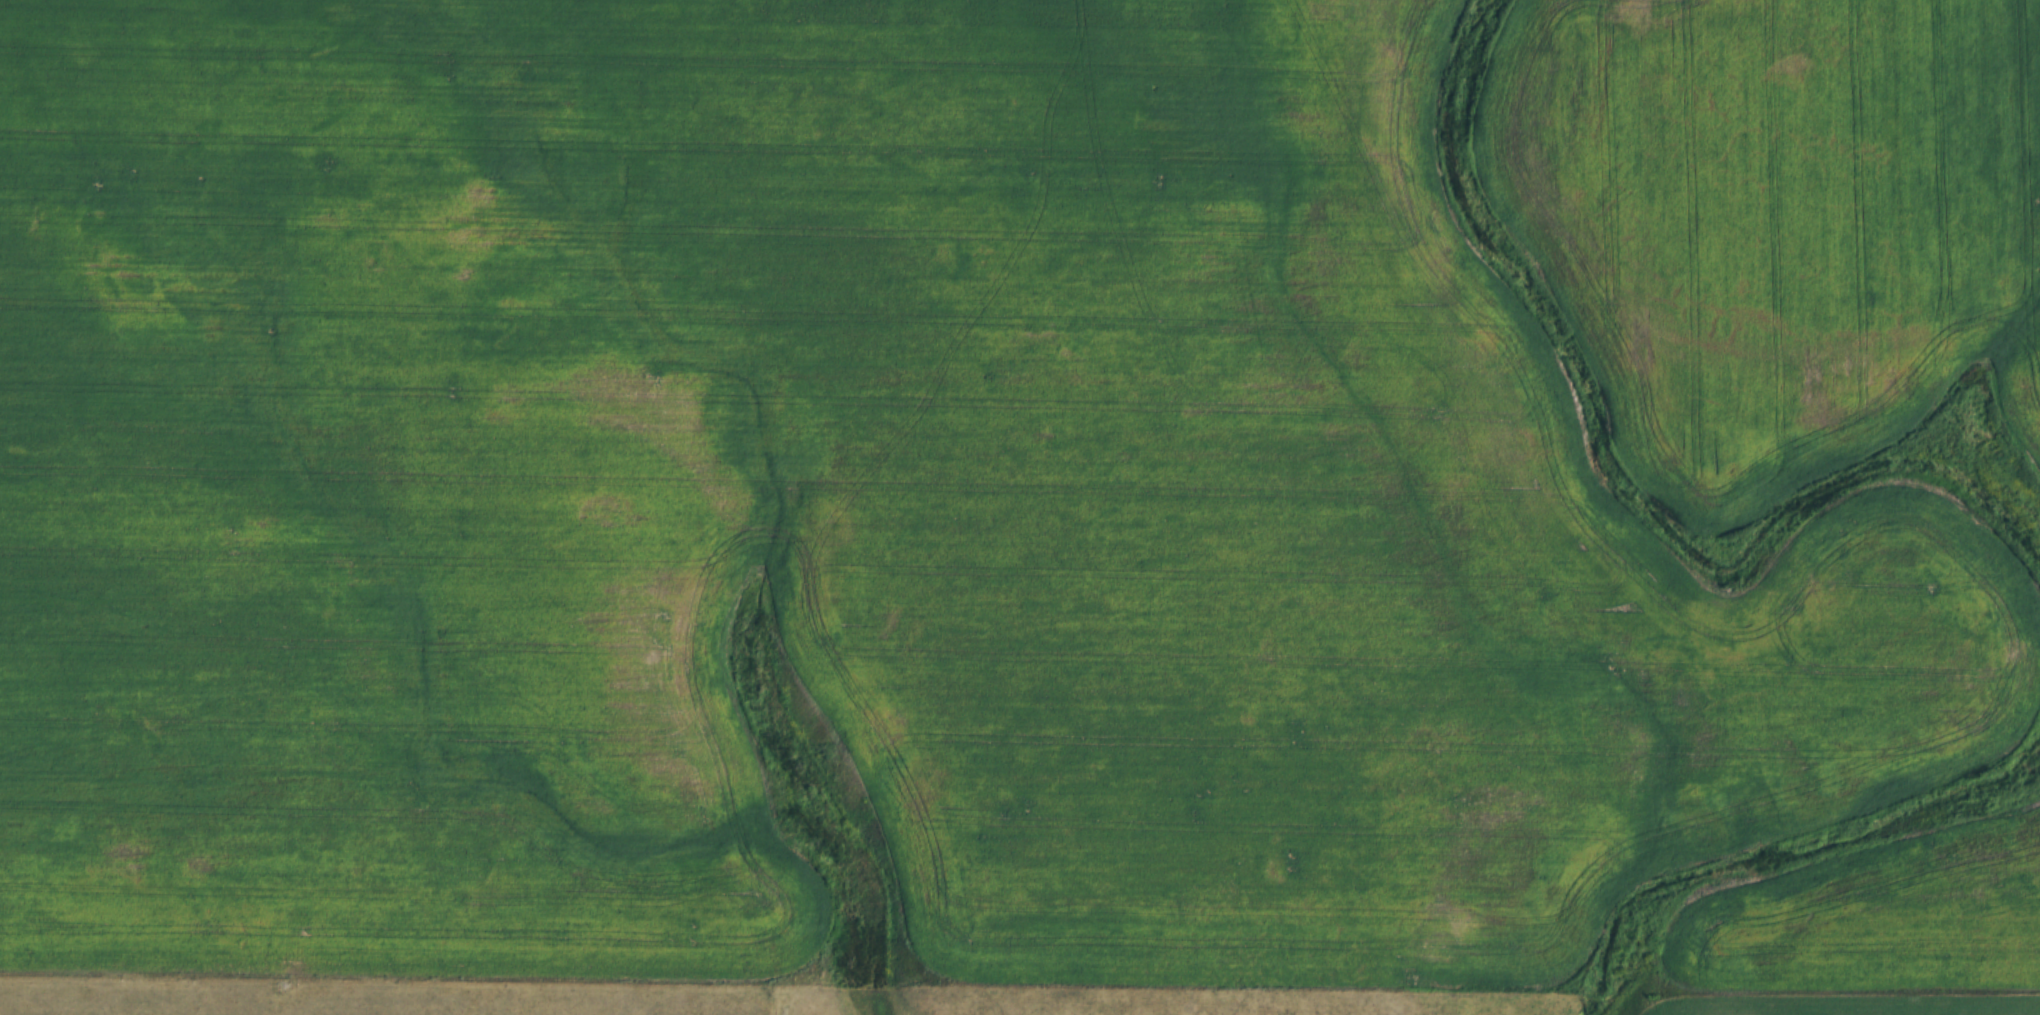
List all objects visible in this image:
building: (1628, 600)

